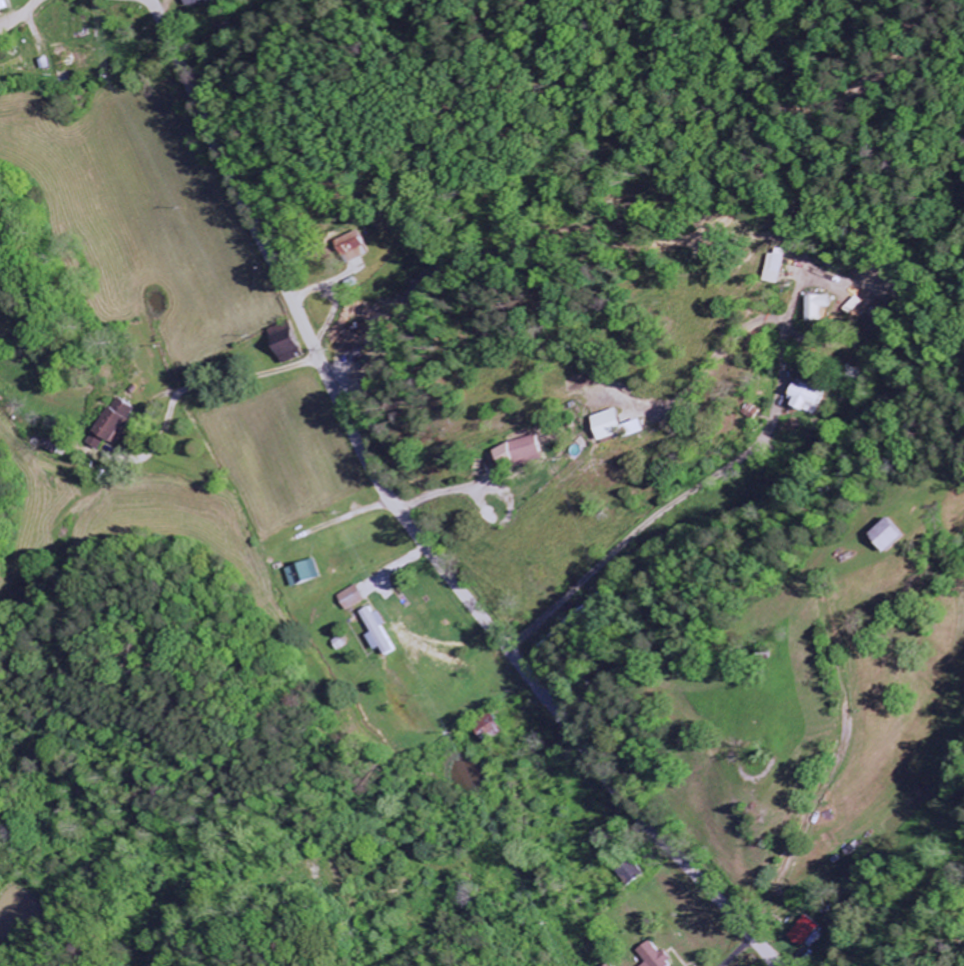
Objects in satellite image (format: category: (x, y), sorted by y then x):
building: (202, 3)
building: (4, 6)
road: (10, 11)
building: (821, 308)
building: (292, 342)
road: (197, 385)
building: (809, 400)
building: (120, 421)
building: (619, 426)
building: (646, 429)
building: (529, 452)
road: (714, 476)
road: (406, 520)
building: (898, 535)
road: (173, 537)
building: (308, 575)
building: (357, 598)
building: (382, 633)
road: (545, 866)
building: (633, 872)
building: (805, 931)
building: (658, 955)
building: (615, 965)

